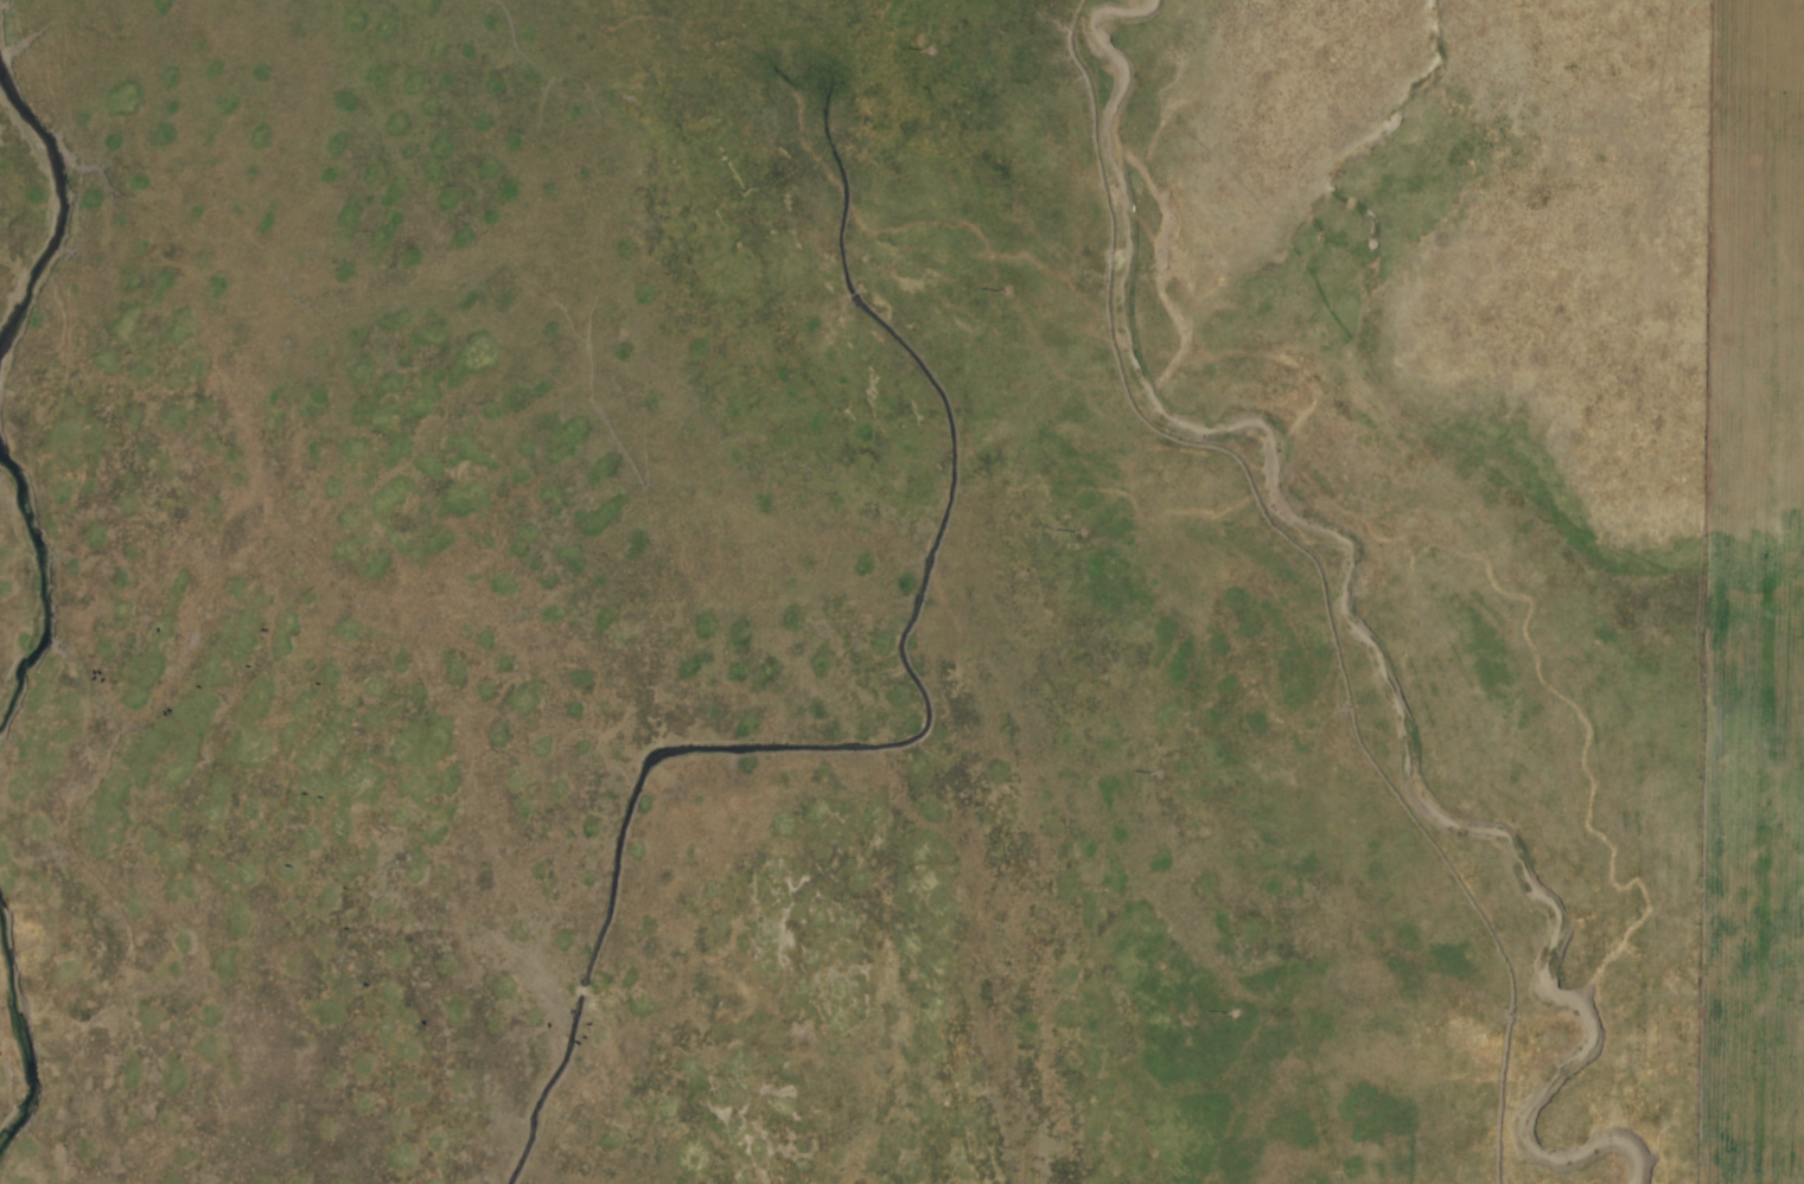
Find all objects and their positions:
crop: (901, 591)

